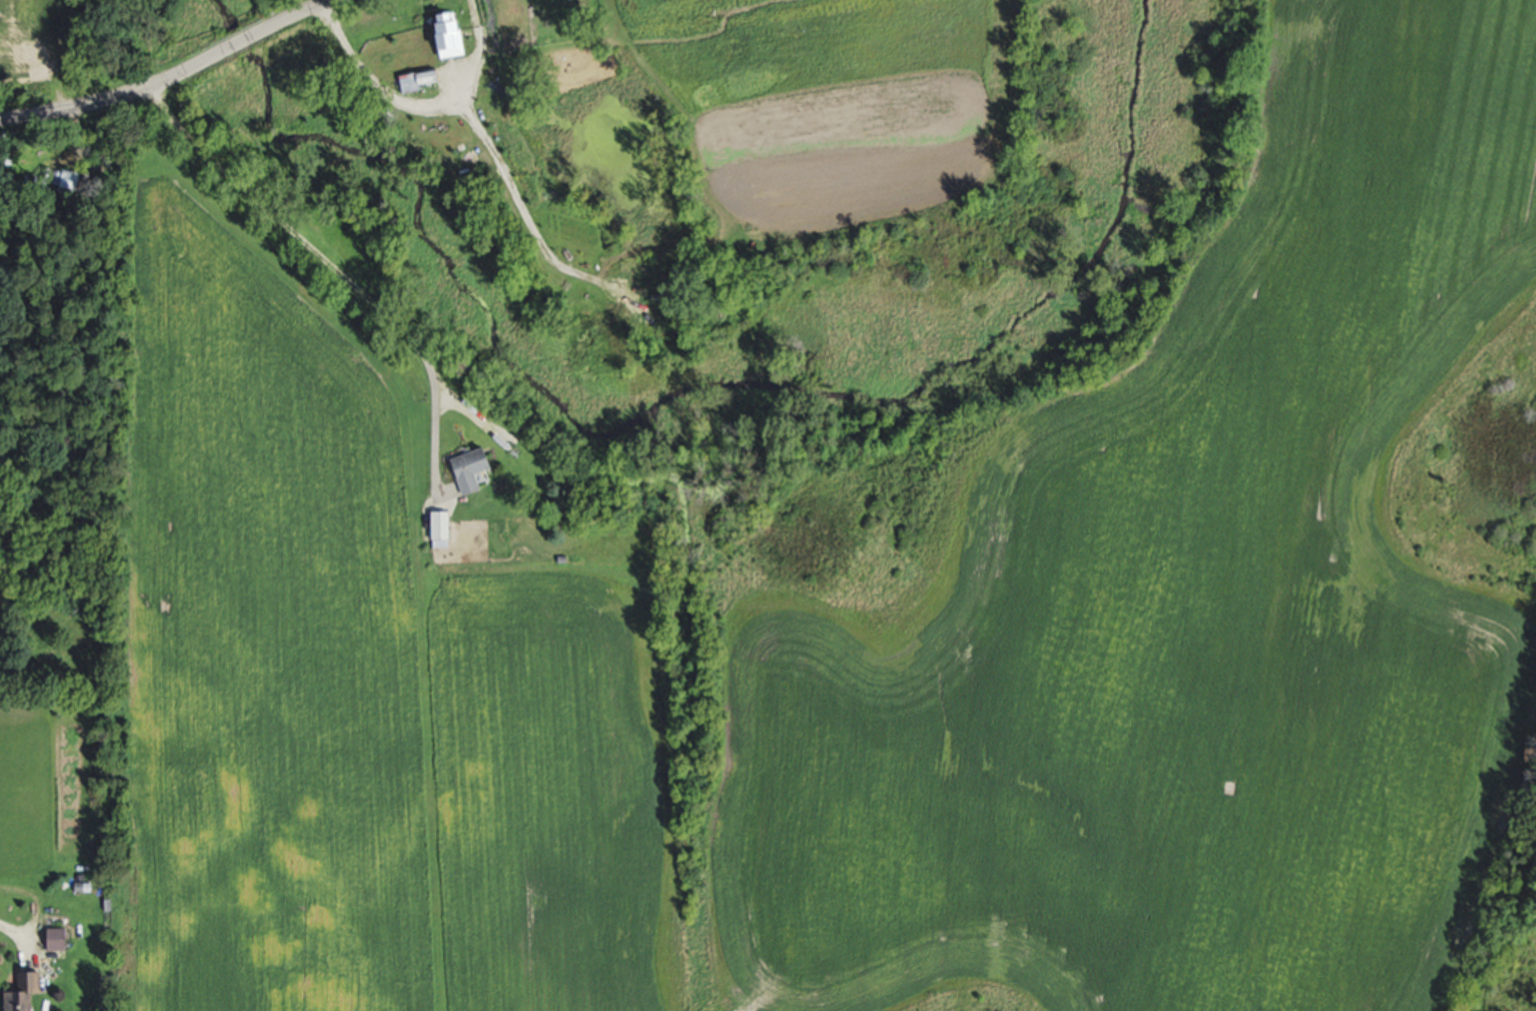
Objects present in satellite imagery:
road: (169, 76)
building: (424, 80)
building: (493, 105)
building: (73, 180)
road: (324, 265)
building: (475, 470)
road: (7, 933)
building: (26, 993)

